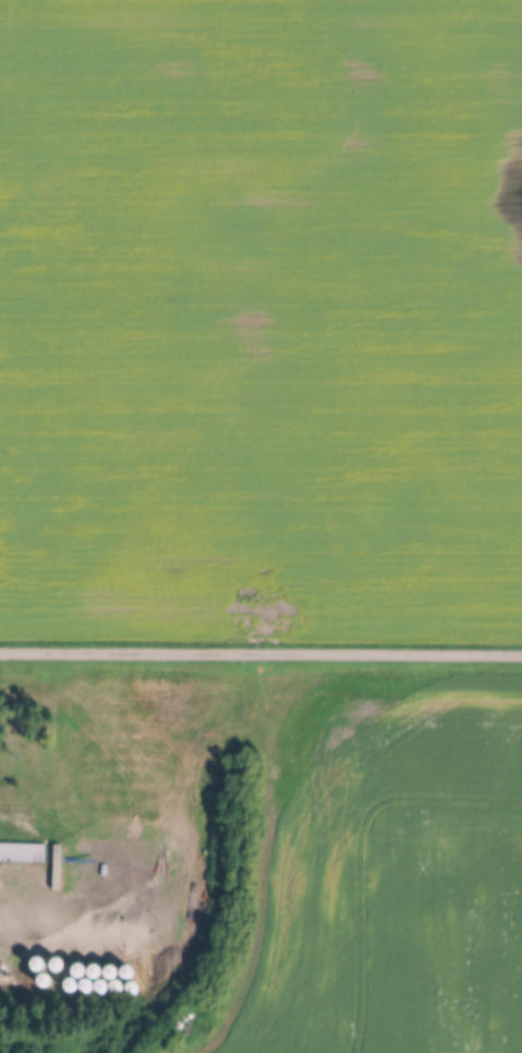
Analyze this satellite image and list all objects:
road: (260, 650)
building: (37, 853)

